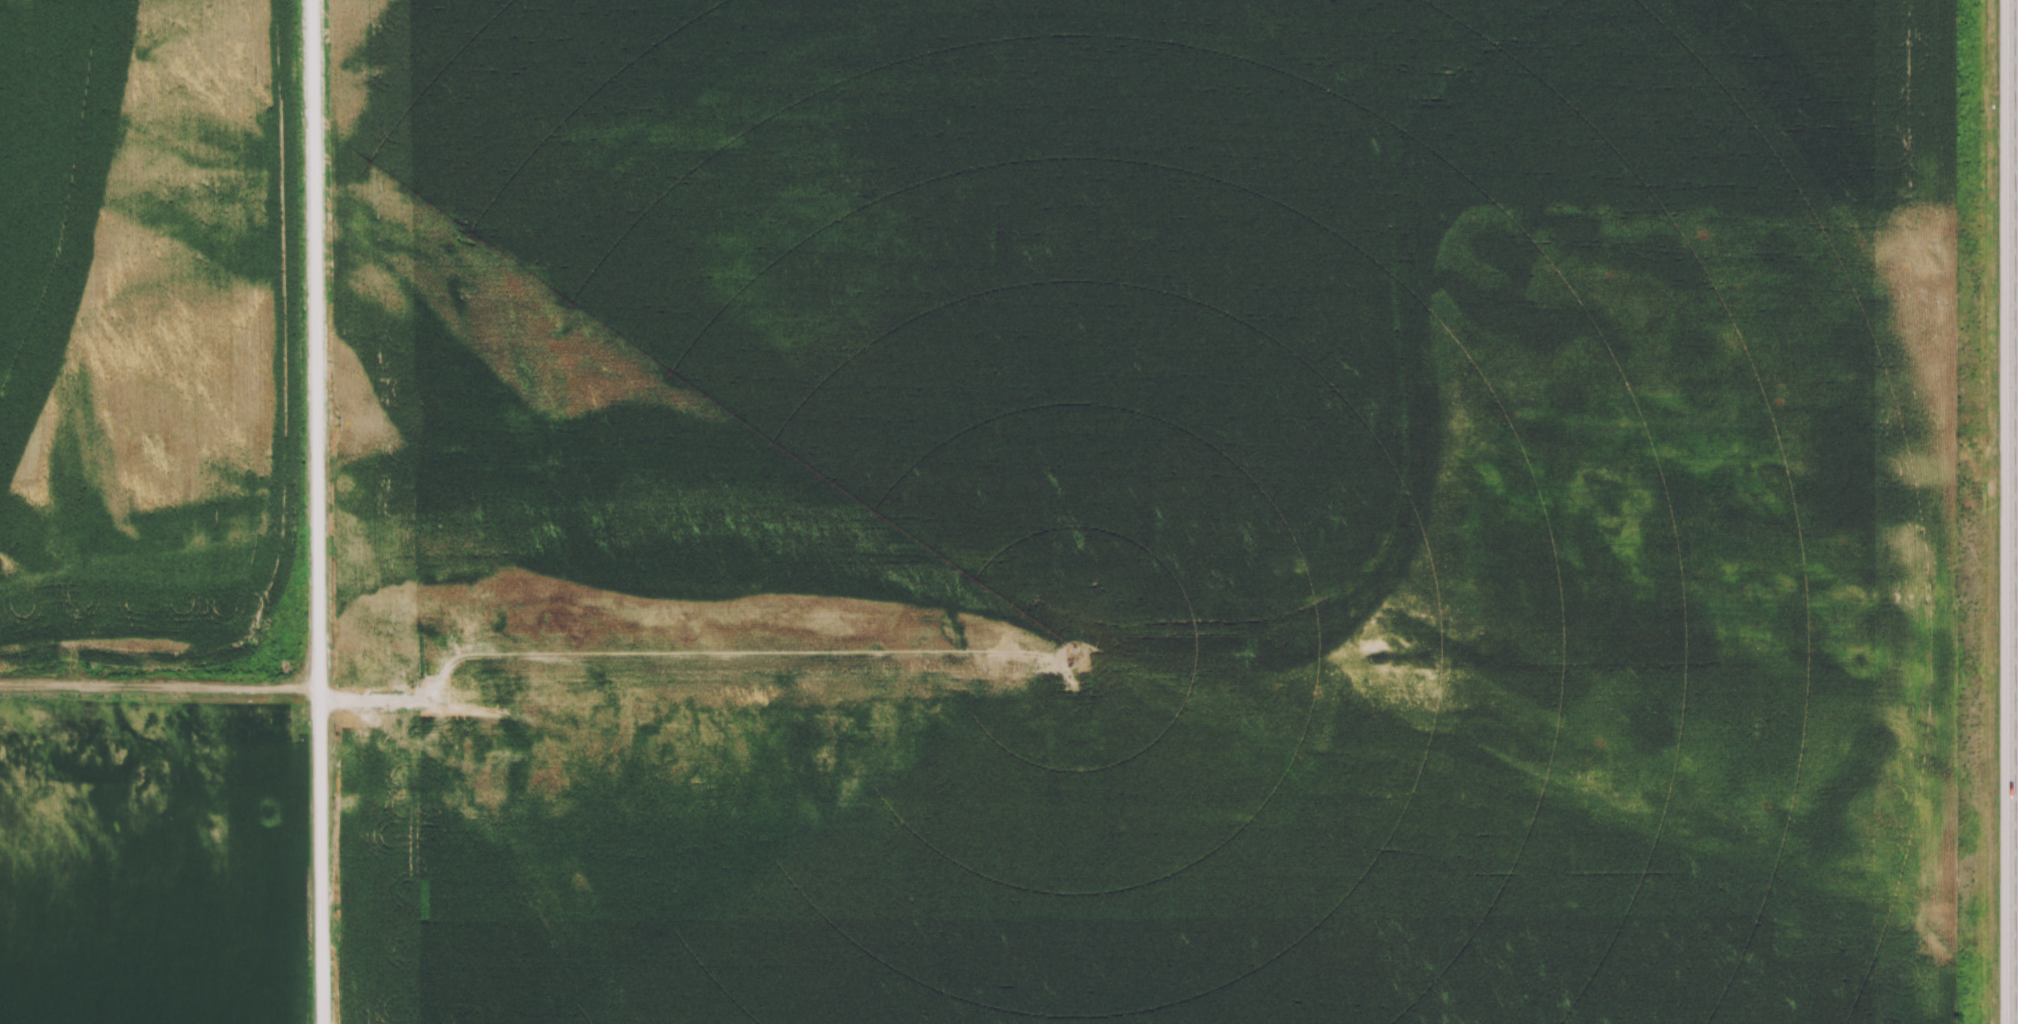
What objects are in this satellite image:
crop: (1132, 511)
road: (314, 512)
road: (2017, 512)
road: (158, 687)

